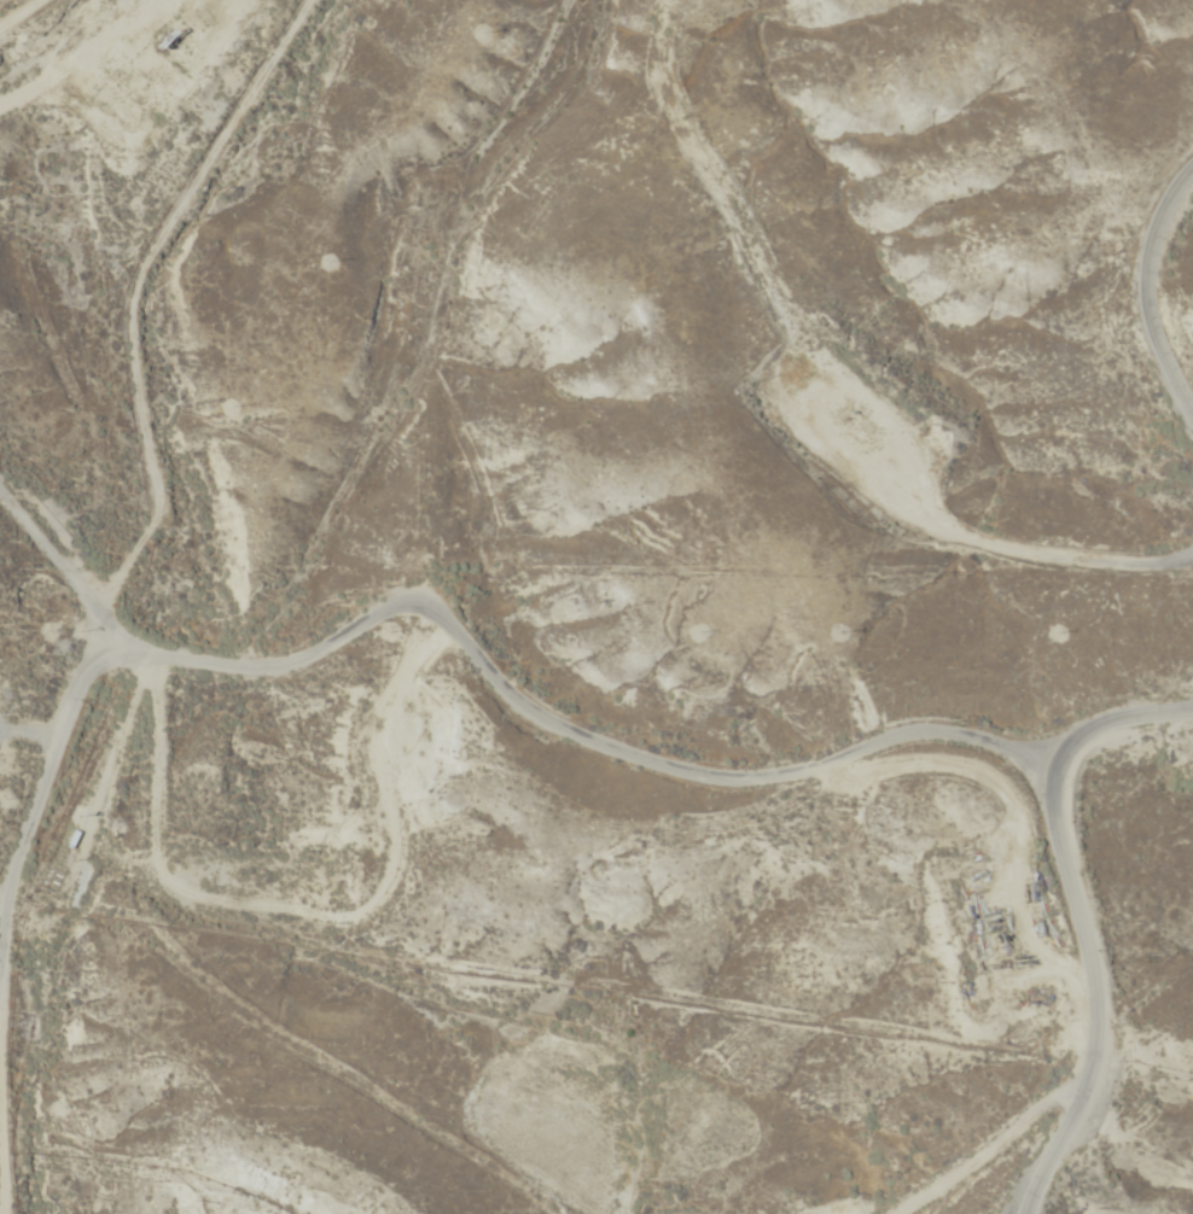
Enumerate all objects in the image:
road: (5, 2)
road: (1153, 302)
road: (290, 502)
road: (513, 678)
road: (1082, 926)
road: (956, 1152)

